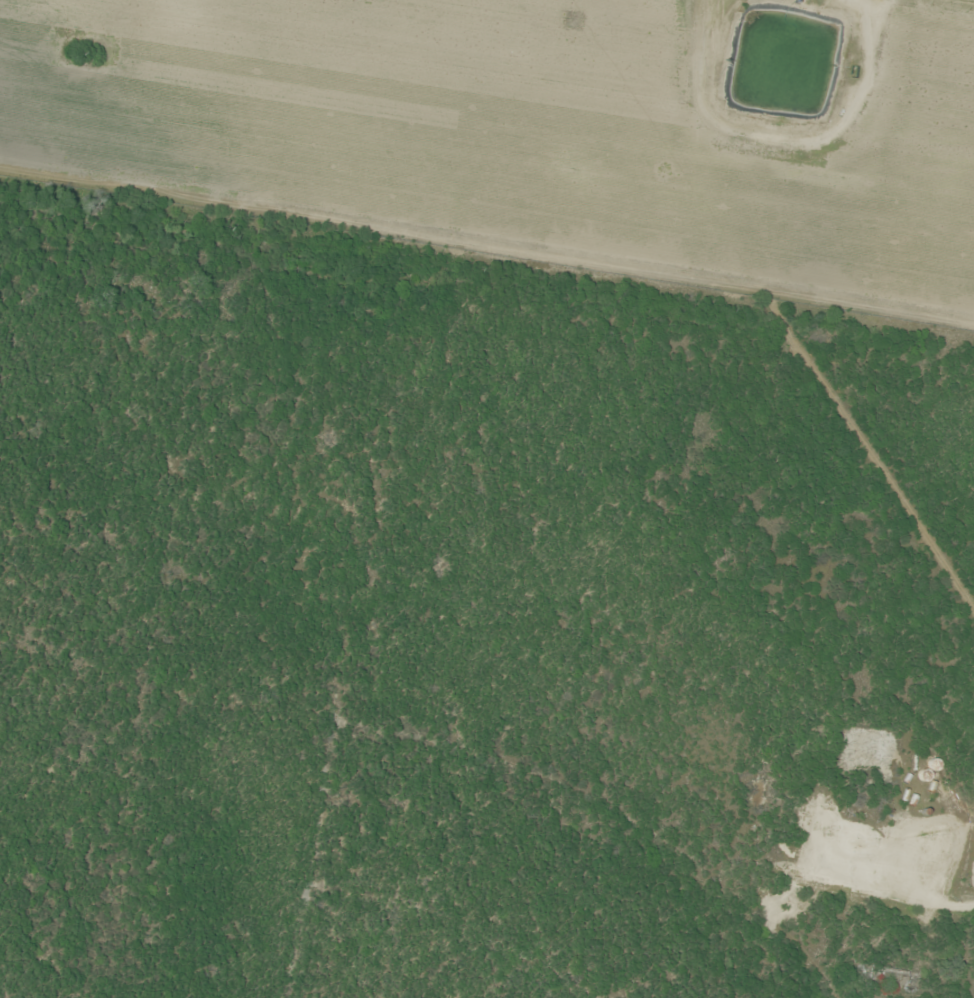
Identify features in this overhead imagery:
road: (347, 659)
road: (600, 824)
road: (414, 949)

